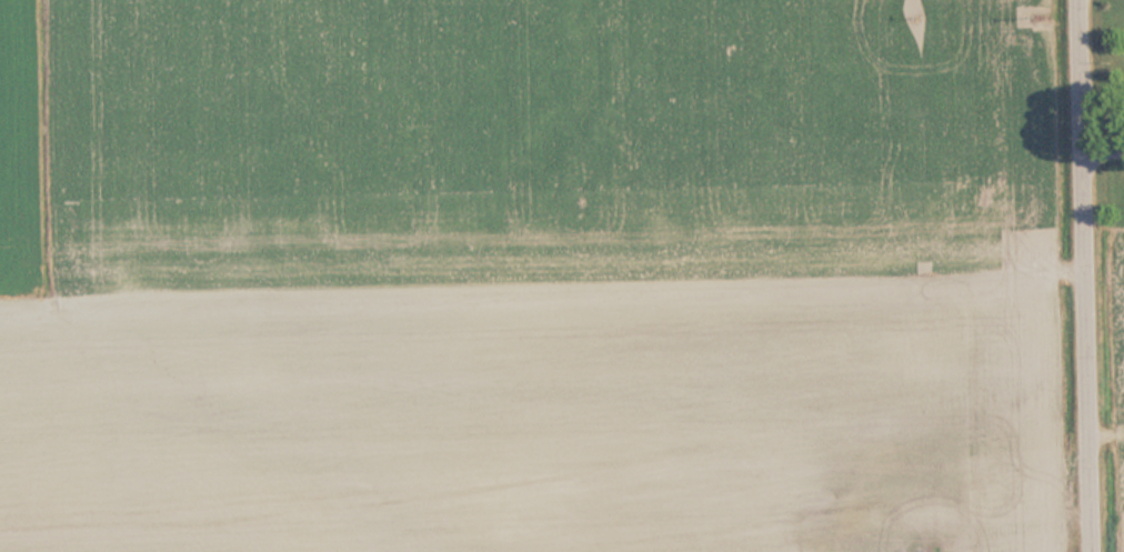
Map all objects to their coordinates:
road: (1088, 275)
building: (1011, 475)
building: (832, 523)

